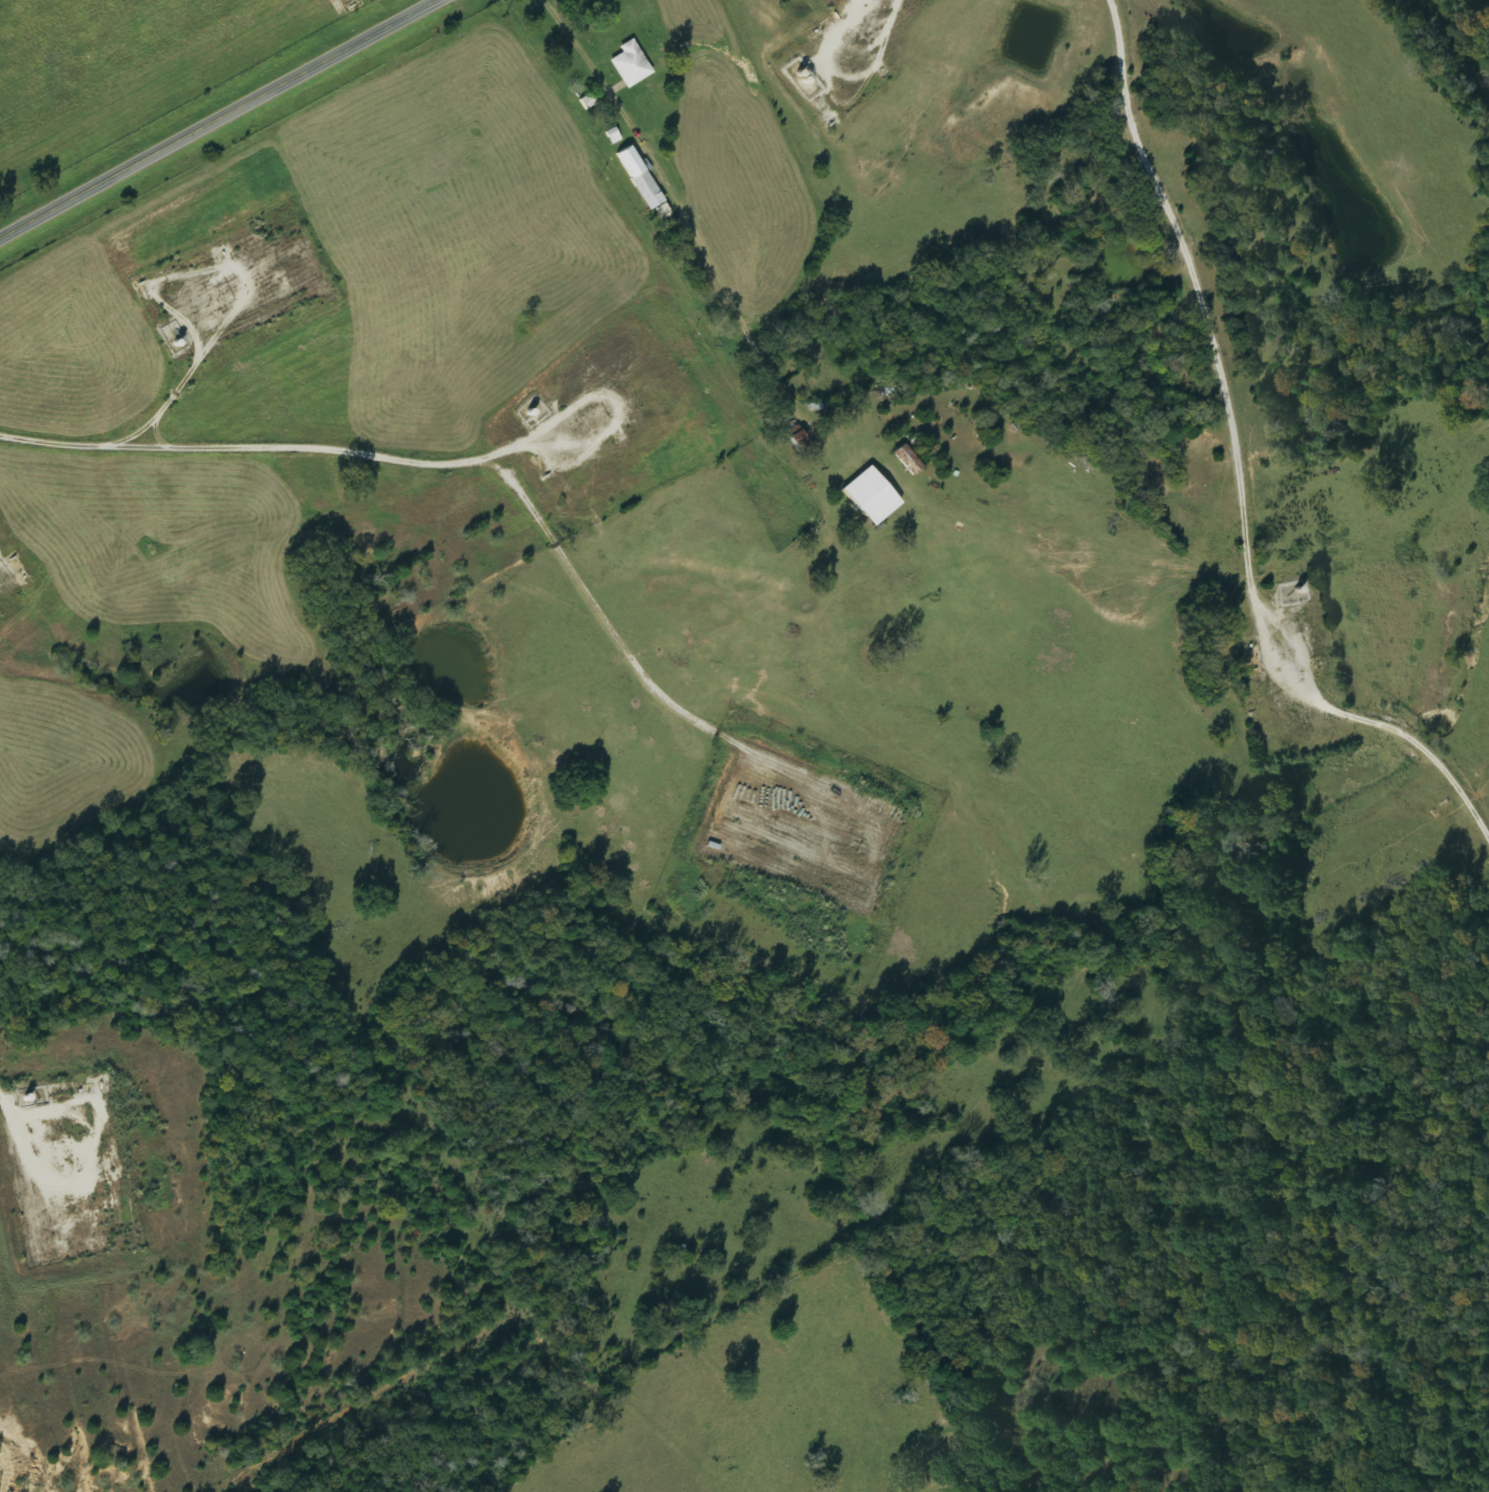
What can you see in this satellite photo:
building: (631, 64)
building: (588, 102)
road: (214, 118)
building: (613, 136)
building: (642, 182)
building: (908, 460)
building: (870, 496)

